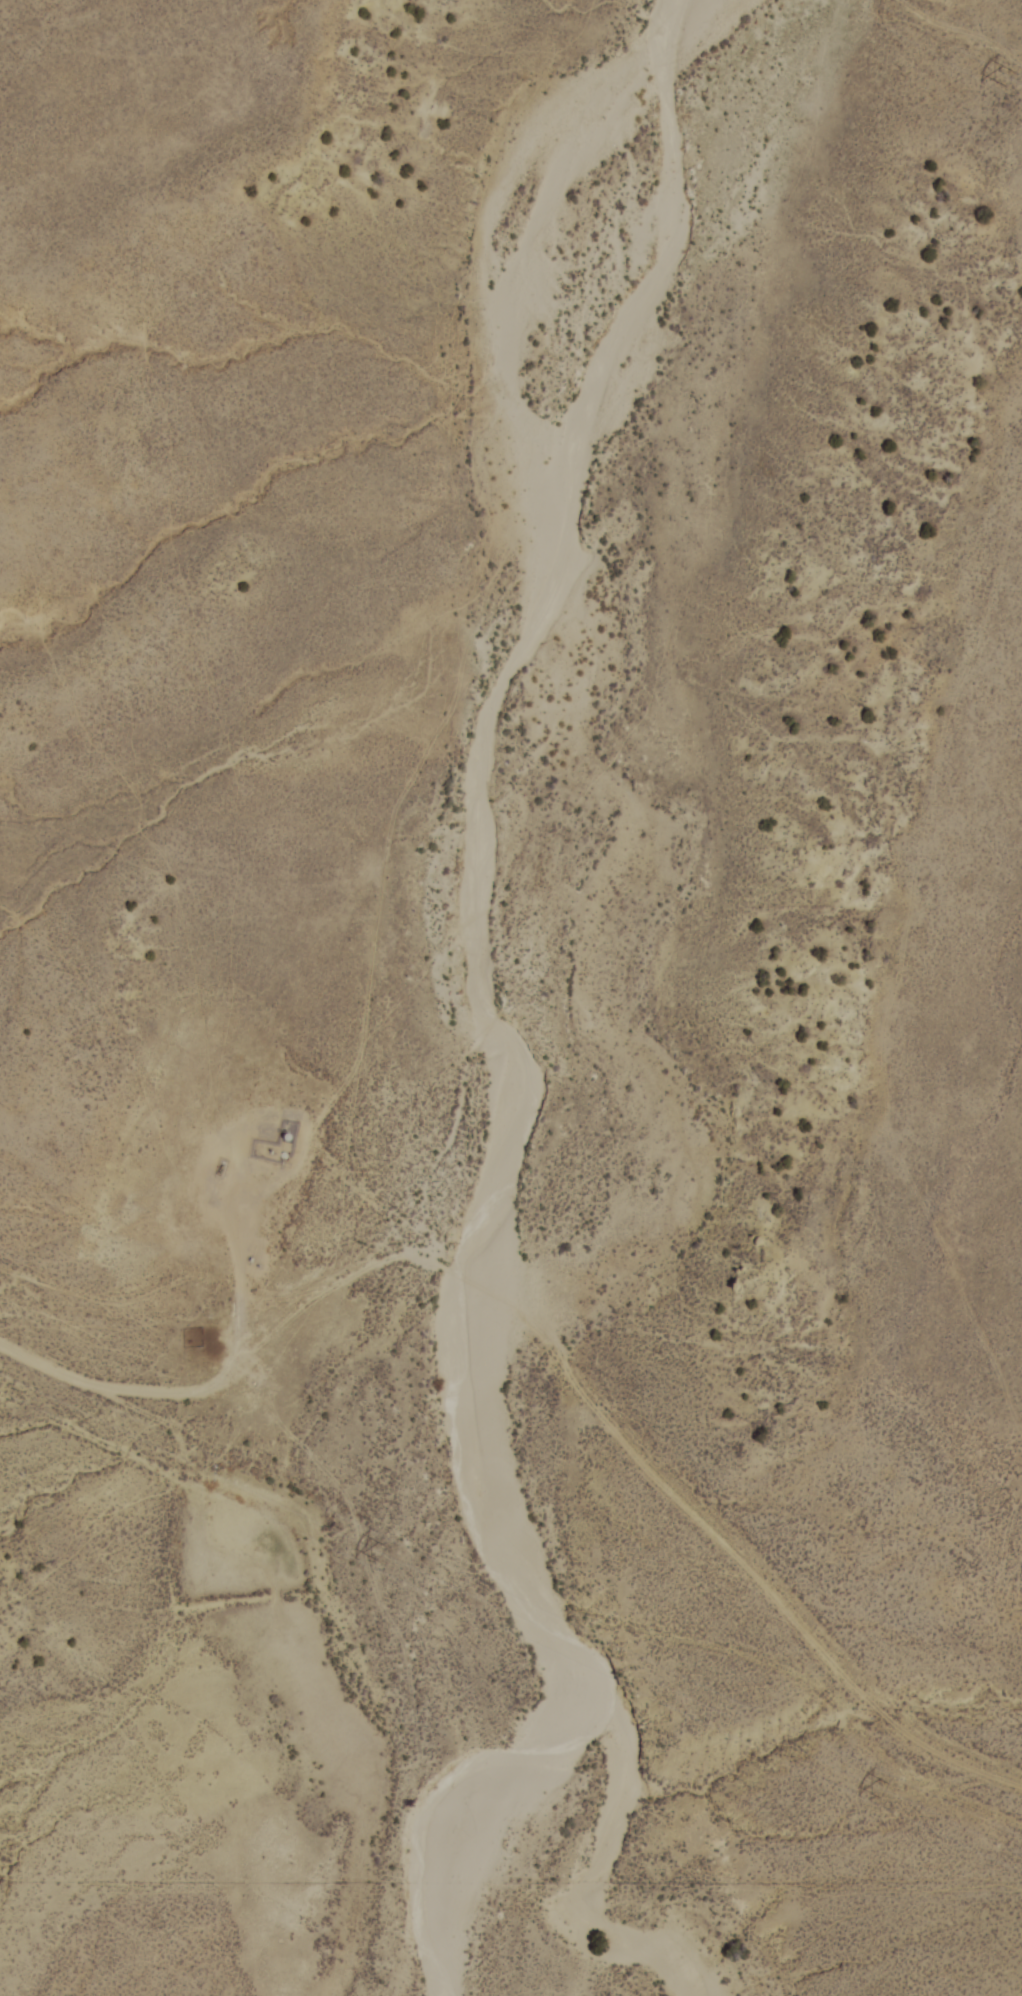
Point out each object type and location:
power tower: (1006, 81)
river: (471, 784)
power tower: (372, 1553)
power tower: (879, 1791)
river: (469, 1838)
river: (593, 1886)

